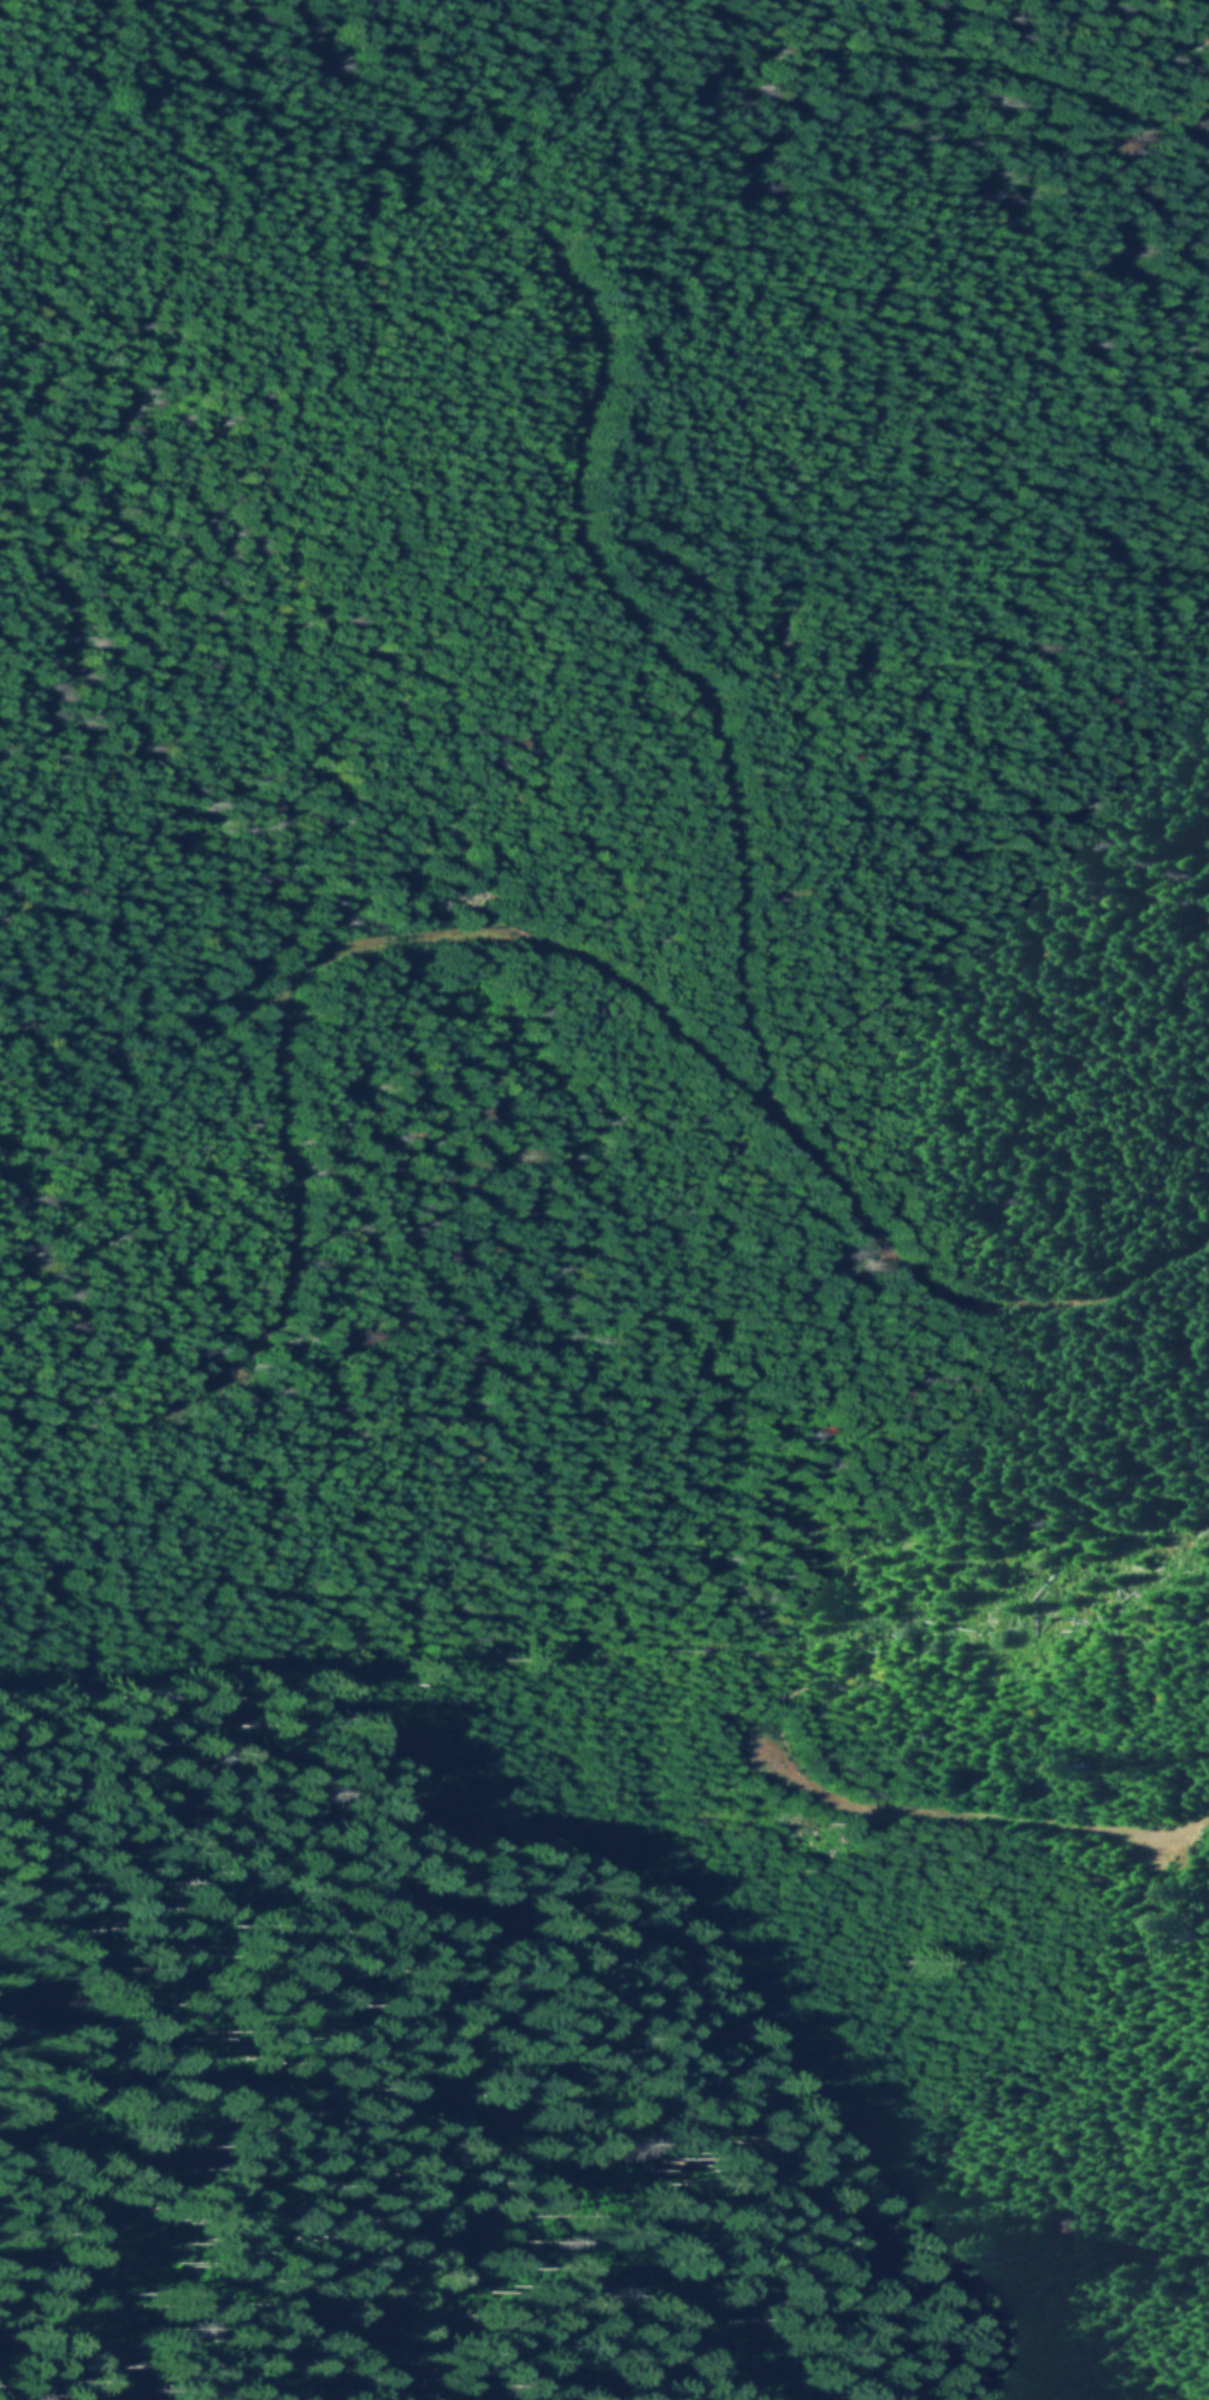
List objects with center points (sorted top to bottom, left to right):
road: (659, 654)
road: (570, 945)
road: (966, 1810)
road: (83, 2318)

